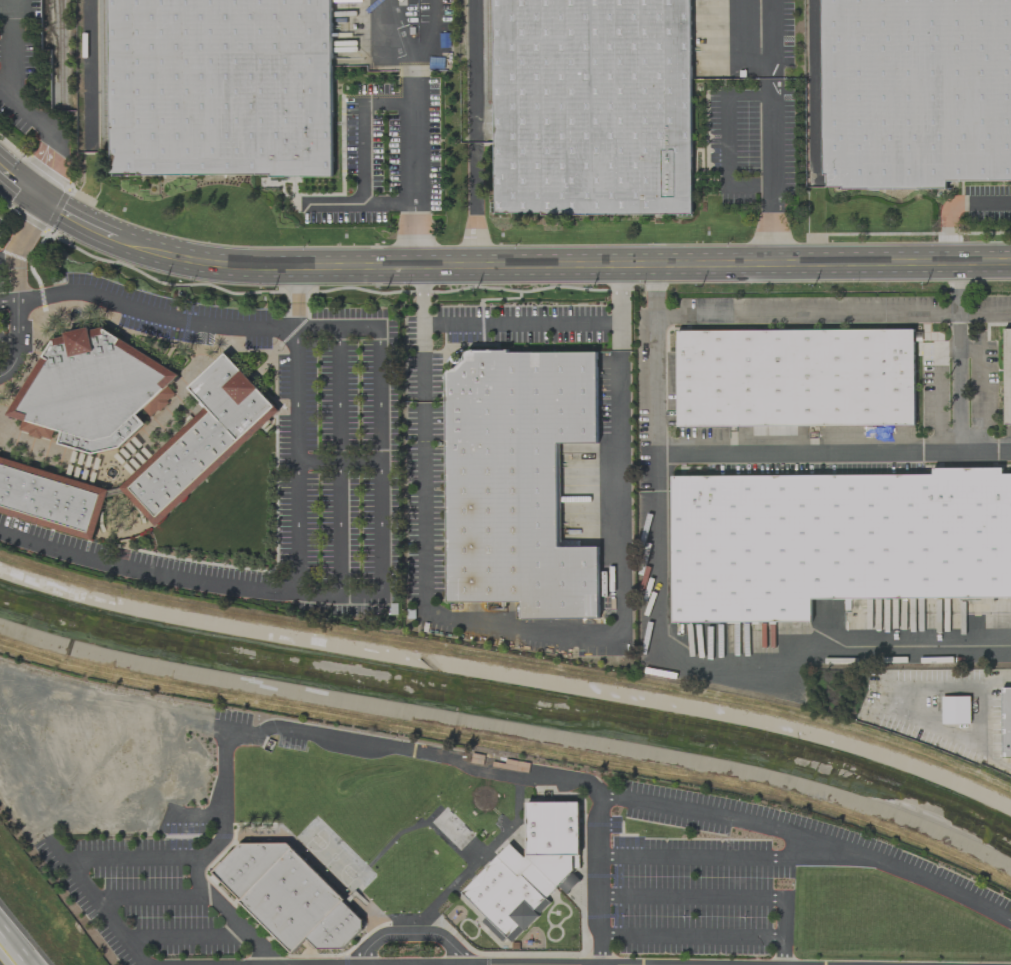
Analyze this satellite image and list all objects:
railway: (59, 7)
road: (432, 34)
road: (774, 39)
railway: (488, 51)
railway: (60, 52)
road: (476, 70)
railway: (100, 76)
building: (220, 87)
railway: (816, 88)
building: (915, 93)
building: (594, 107)
road: (416, 129)
road: (52, 133)
road: (724, 141)
road: (363, 155)
road: (776, 170)
road: (475, 204)
road: (954, 207)
road: (26, 235)
road: (492, 266)
road: (18, 278)
road: (147, 312)
road: (832, 315)
road: (21, 321)
road: (520, 325)
road: (310, 328)
road: (11, 341)
building: (1007, 376)
building: (795, 378)
road: (960, 382)
building: (91, 390)
building: (201, 440)
road: (809, 451)
road: (296, 462)
road: (339, 462)
road: (380, 463)
building: (517, 481)
building: (50, 498)
building: (835, 541)
road: (189, 581)
road: (534, 631)
road: (659, 639)
road: (113, 704)
building: (955, 710)
road: (987, 716)
building: (1006, 722)
road: (427, 752)
road: (87, 763)
road: (31, 813)
road: (140, 814)
road: (734, 857)
building: (528, 866)
building: (569, 883)
road: (671, 895)
road: (154, 896)
building: (288, 896)
road: (229, 912)
road: (598, 930)
road: (413, 933)
road: (190, 936)
road: (690, 937)
road: (10, 952)

